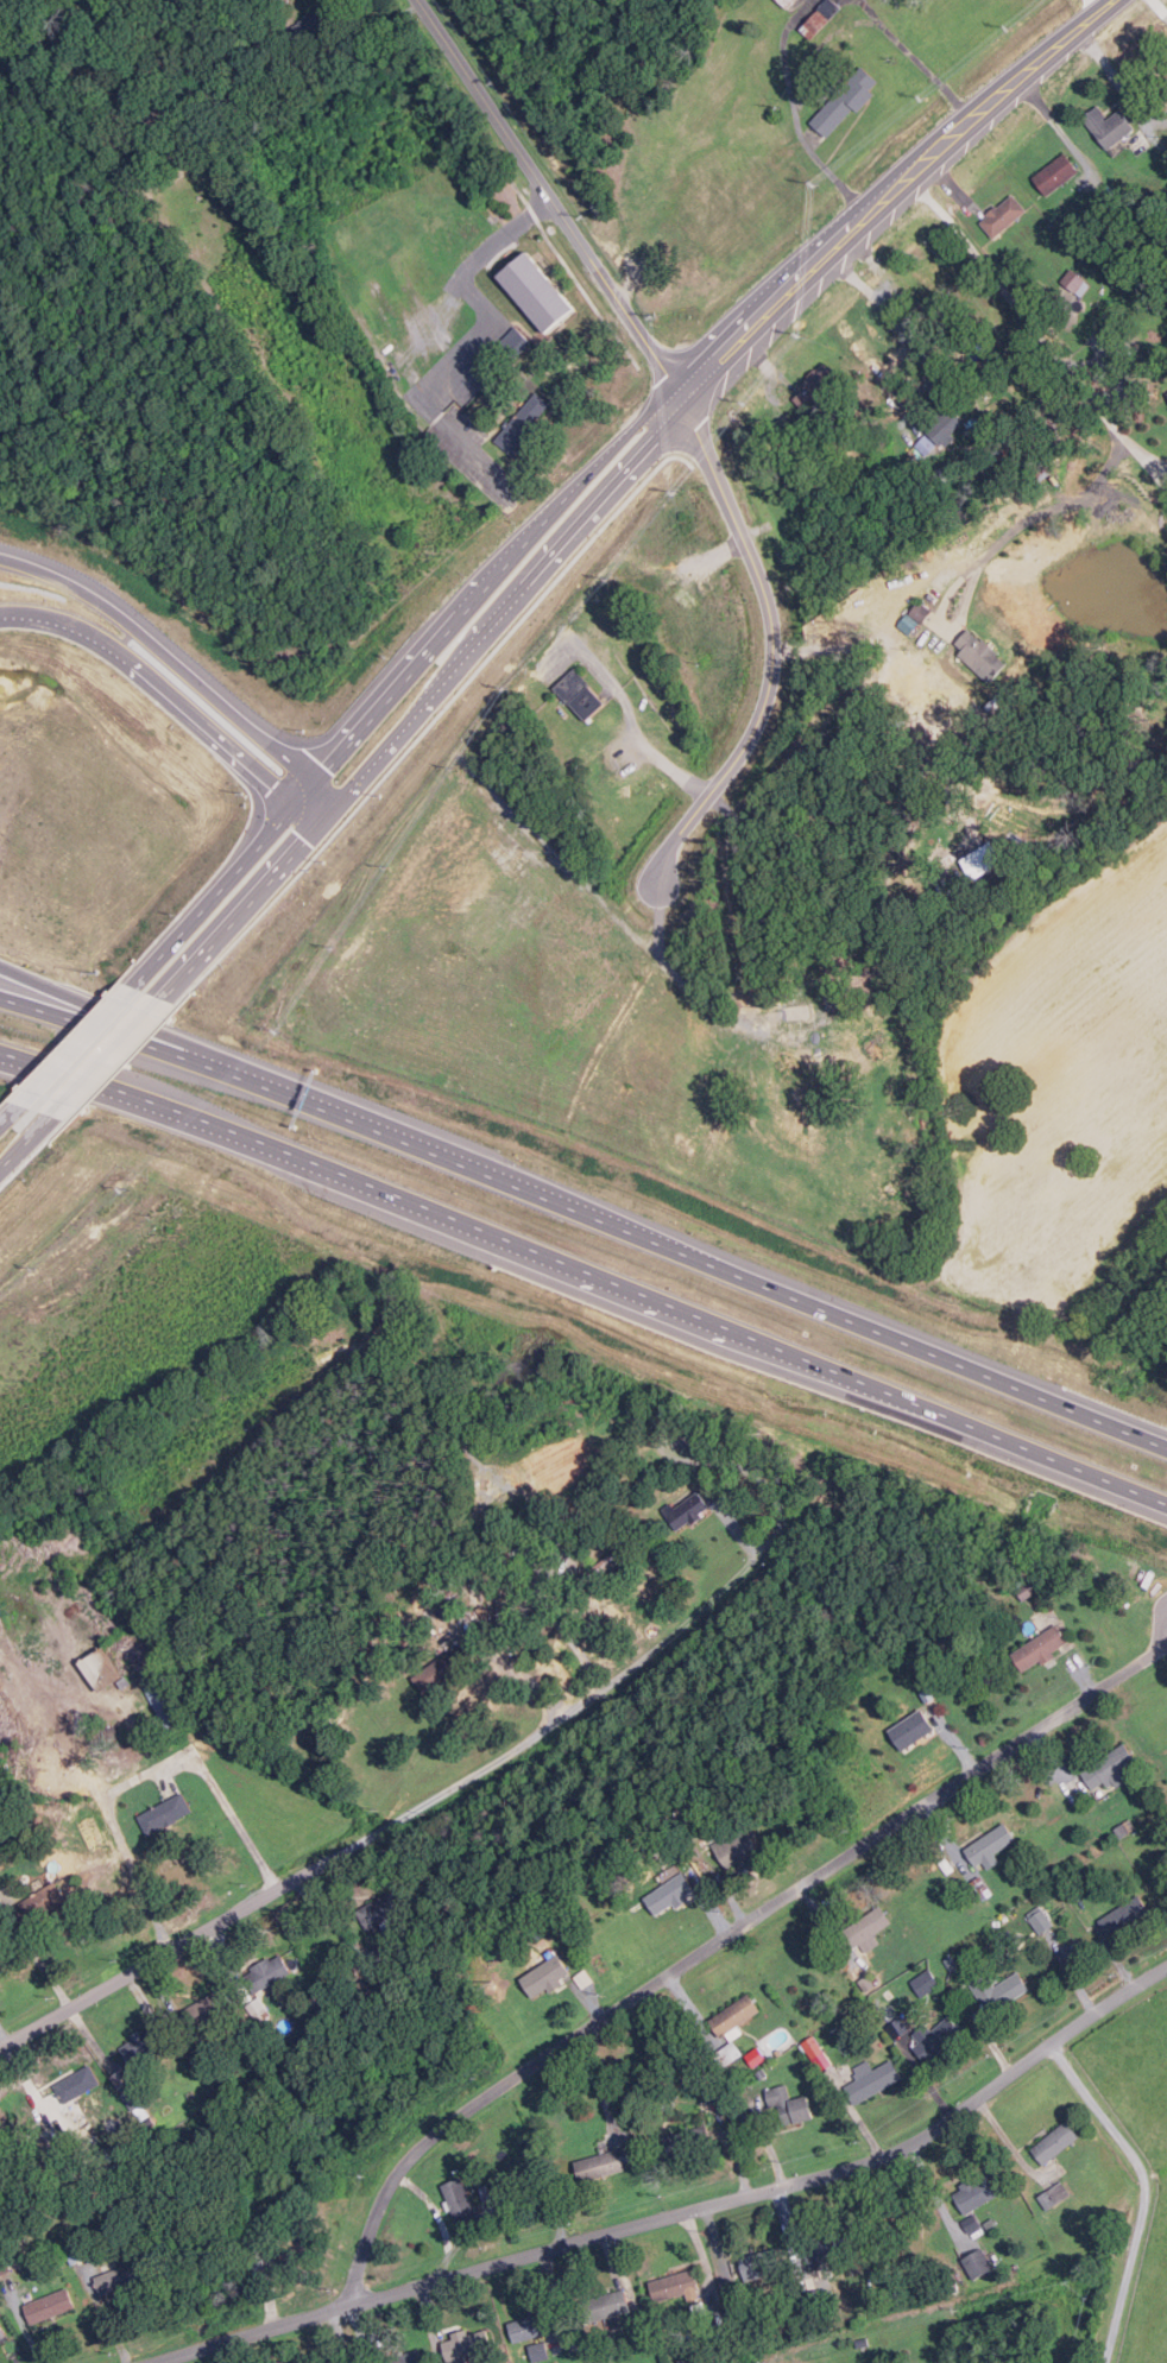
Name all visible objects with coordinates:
building: (254, 0)
building: (787, 2)
road: (1095, 4)
building: (821, 17)
building: (317, 21)
road: (1053, 44)
road: (916, 57)
road: (1115, 76)
building: (200, 80)
building: (1160, 88)
building: (844, 97)
road: (795, 110)
road: (1056, 124)
building: (1109, 125)
road: (913, 165)
building: (1055, 173)
road: (548, 196)
building: (1004, 215)
building: (1074, 278)
building: (536, 292)
road: (1015, 302)
road: (888, 314)
road: (755, 320)
building: (515, 342)
road: (466, 358)
building: (818, 386)
building: (1166, 402)
building: (868, 423)
building: (946, 425)
building: (523, 427)
building: (849, 438)
road: (617, 441)
building: (927, 444)
road: (1143, 457)
building: (982, 462)
building: (1047, 473)
road: (1163, 473)
road: (574, 529)
road: (525, 538)
road: (995, 546)
building: (921, 612)
road: (771, 639)
building: (936, 644)
road: (166, 653)
building: (982, 655)
road: (403, 681)
road: (159, 684)
building: (581, 693)
road: (396, 737)
traffic signals: (315, 782)
road: (305, 792)
road: (322, 797)
traffic signals: (297, 803)
road: (313, 808)
traffic signals: (329, 813)
building: (977, 866)
road: (209, 901)
road: (241, 911)
road: (130, 1032)
road: (75, 1044)
road: (169, 1044)
road: (170, 1060)
road: (86, 1079)
road: (14, 1105)
road: (32, 1133)
road: (462, 1173)
building: (898, 1184)
road: (366, 1189)
road: (877, 1335)
road: (947, 1420)
building: (663, 1424)
building: (721, 1447)
building: (610, 1468)
building: (688, 1511)
building: (516, 1555)
building: (599, 1568)
building: (1023, 1586)
building: (484, 1612)
road: (568, 1631)
building: (1040, 1648)
building: (106, 1668)
building: (443, 1668)
road: (516, 1670)
building: (163, 1702)
road: (467, 1707)
building: (911, 1729)
building: (1112, 1767)
road: (141, 1777)
building: (165, 1814)
building: (674, 1814)
road: (392, 1821)
building: (1122, 1832)
building: (991, 1844)
building: (737, 1846)
building: (947, 1865)
building: (623, 1883)
building: (982, 1887)
building: (669, 1894)
building: (39, 1904)
building: (383, 1908)
building: (1124, 1915)
building: (1041, 1917)
building: (871, 1927)
building: (1, 1935)
road: (718, 1936)
building: (1009, 1936)
building: (952, 1961)
building: (269, 1972)
building: (864, 1973)
building: (545, 1977)
building: (583, 1978)
building: (928, 1982)
building: (360, 1986)
building: (999, 1989)
building: (258, 2007)
building: (206, 2009)
building: (736, 2016)
building: (856, 2017)
building: (935, 2037)
building: (813, 2046)
building: (730, 2053)
building: (825, 2064)
building: (140, 2067)
building: (762, 2072)
building: (734, 2075)
building: (121, 2079)
building: (872, 2079)
building: (78, 2084)
building: (712, 2089)
building: (645, 2097)
building: (790, 2104)
building: (687, 2141)
building: (1056, 2143)
building: (119, 2155)
building: (604, 2165)
road: (1146, 2188)
building: (978, 2191)
building: (485, 2192)
building: (1055, 2195)
building: (460, 2200)
road: (509, 2200)
road: (677, 2211)
road: (439, 2217)
building: (992, 2222)
building: (972, 2223)
building: (978, 2232)
building: (292, 2238)
building: (826, 2242)
building: (76, 2251)
building: (256, 2260)
building: (5, 2263)
building: (761, 2263)
building: (979, 2263)
building: (120, 2277)
building: (675, 2285)
building: (606, 2305)
building: (813, 2305)
building: (50, 2306)
building: (531, 2326)
building: (756, 2326)
road: (24, 2329)
building: (2, 2331)
building: (718, 2336)
building: (864, 2342)
building: (467, 2344)
building: (541, 2350)
building: (405, 2357)
building: (681, 2361)

